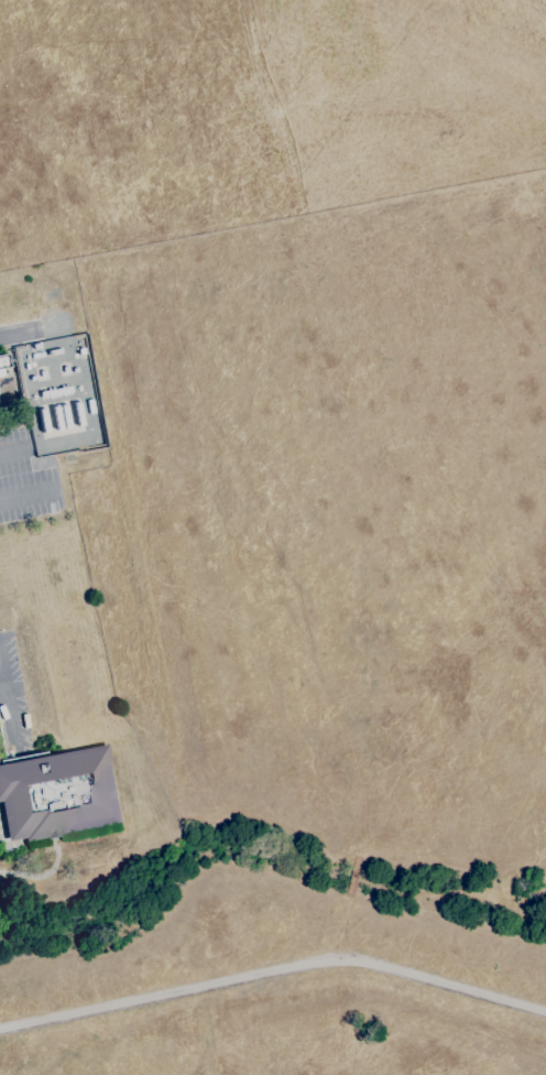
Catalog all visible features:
road: (18, 336)
building: (4, 362)
road: (17, 448)
road: (29, 495)
road: (3, 685)
road: (10, 699)
road: (3, 743)
building: (57, 793)
road: (274, 979)

